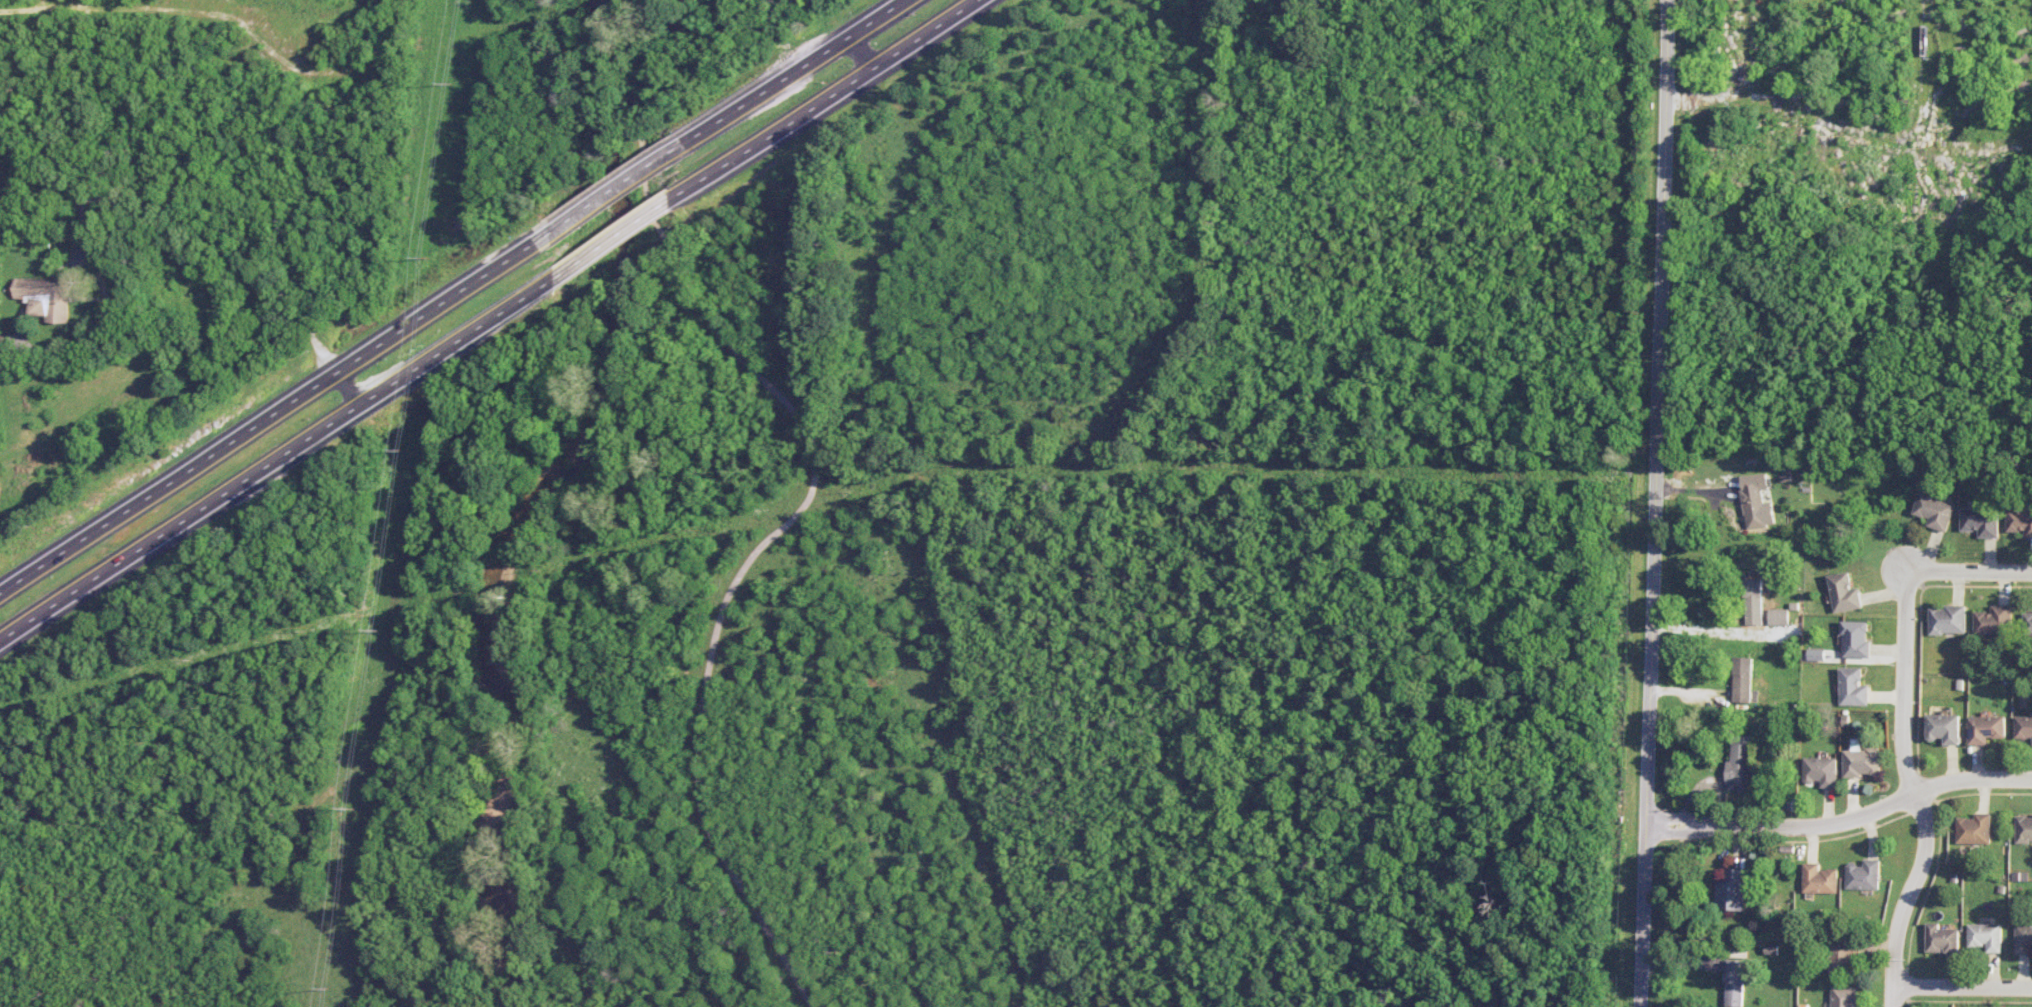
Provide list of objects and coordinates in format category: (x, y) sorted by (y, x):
road: (170, 10)
road: (1811, 56)
road: (783, 77)
road: (826, 100)
road: (1847, 129)
road: (601, 199)
road: (122, 200)
road: (613, 239)
power tower: (426, 256)
building: (44, 297)
road: (346, 391)
road: (268, 419)
power tower: (401, 447)
road: (276, 460)
road: (811, 483)
building: (1755, 501)
road: (1654, 503)
building: (1935, 511)
river: (522, 513)
building: (2020, 521)
building: (1981, 522)
road: (1968, 572)
building: (1843, 592)
building: (1752, 602)
building: (1777, 617)
building: (1947, 619)
building: (1993, 620)
building: (2027, 623)
building: (1855, 639)
building: (1741, 679)
building: (1852, 687)
building: (2023, 727)
building: (1943, 728)
building: (1985, 729)
building: (1861, 761)
building: (1739, 763)
building: (1820, 771)
road: (1914, 791)
road: (1843, 825)
building: (2023, 828)
building: (1974, 829)
building: (1864, 875)
building: (1819, 879)
building: (1733, 890)
building: (1985, 936)
building: (1941, 939)
building: (2023, 939)
building: (1844, 956)
building: (1737, 981)
road: (1963, 990)
building: (1844, 996)

